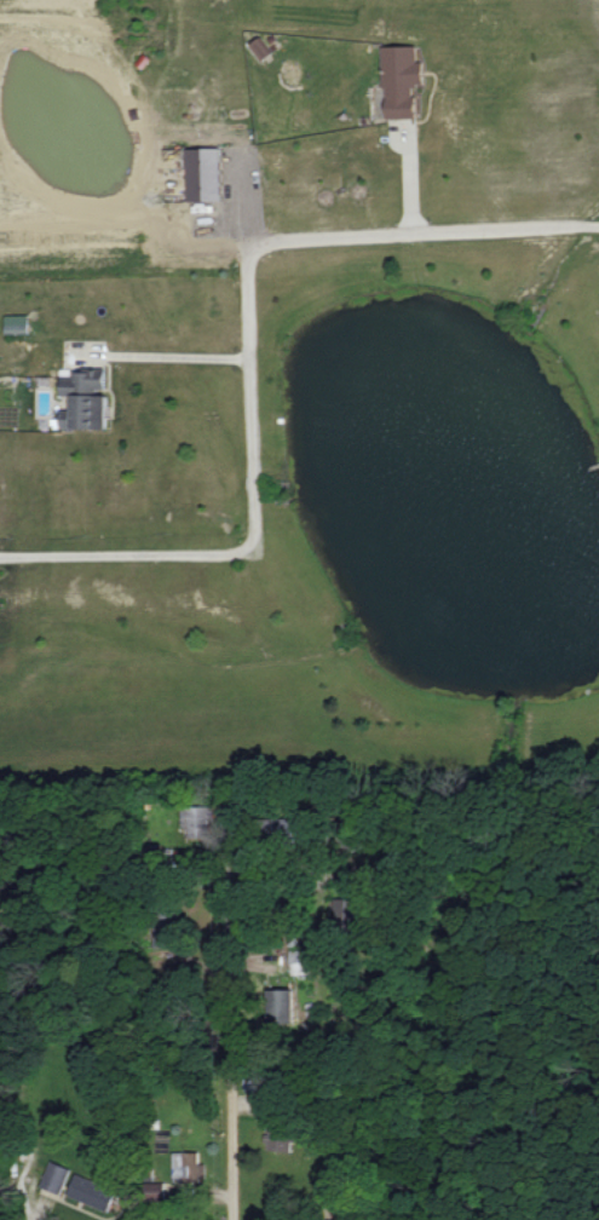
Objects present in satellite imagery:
building: (260, 47)
building: (402, 80)
building: (205, 173)
road: (276, 240)
building: (16, 323)
road: (174, 356)
building: (86, 399)
road: (127, 552)
building: (197, 821)
building: (299, 961)
building: (281, 1005)
road: (231, 1055)
building: (282, 1138)
building: (188, 1167)
building: (79, 1186)
building: (157, 1191)

